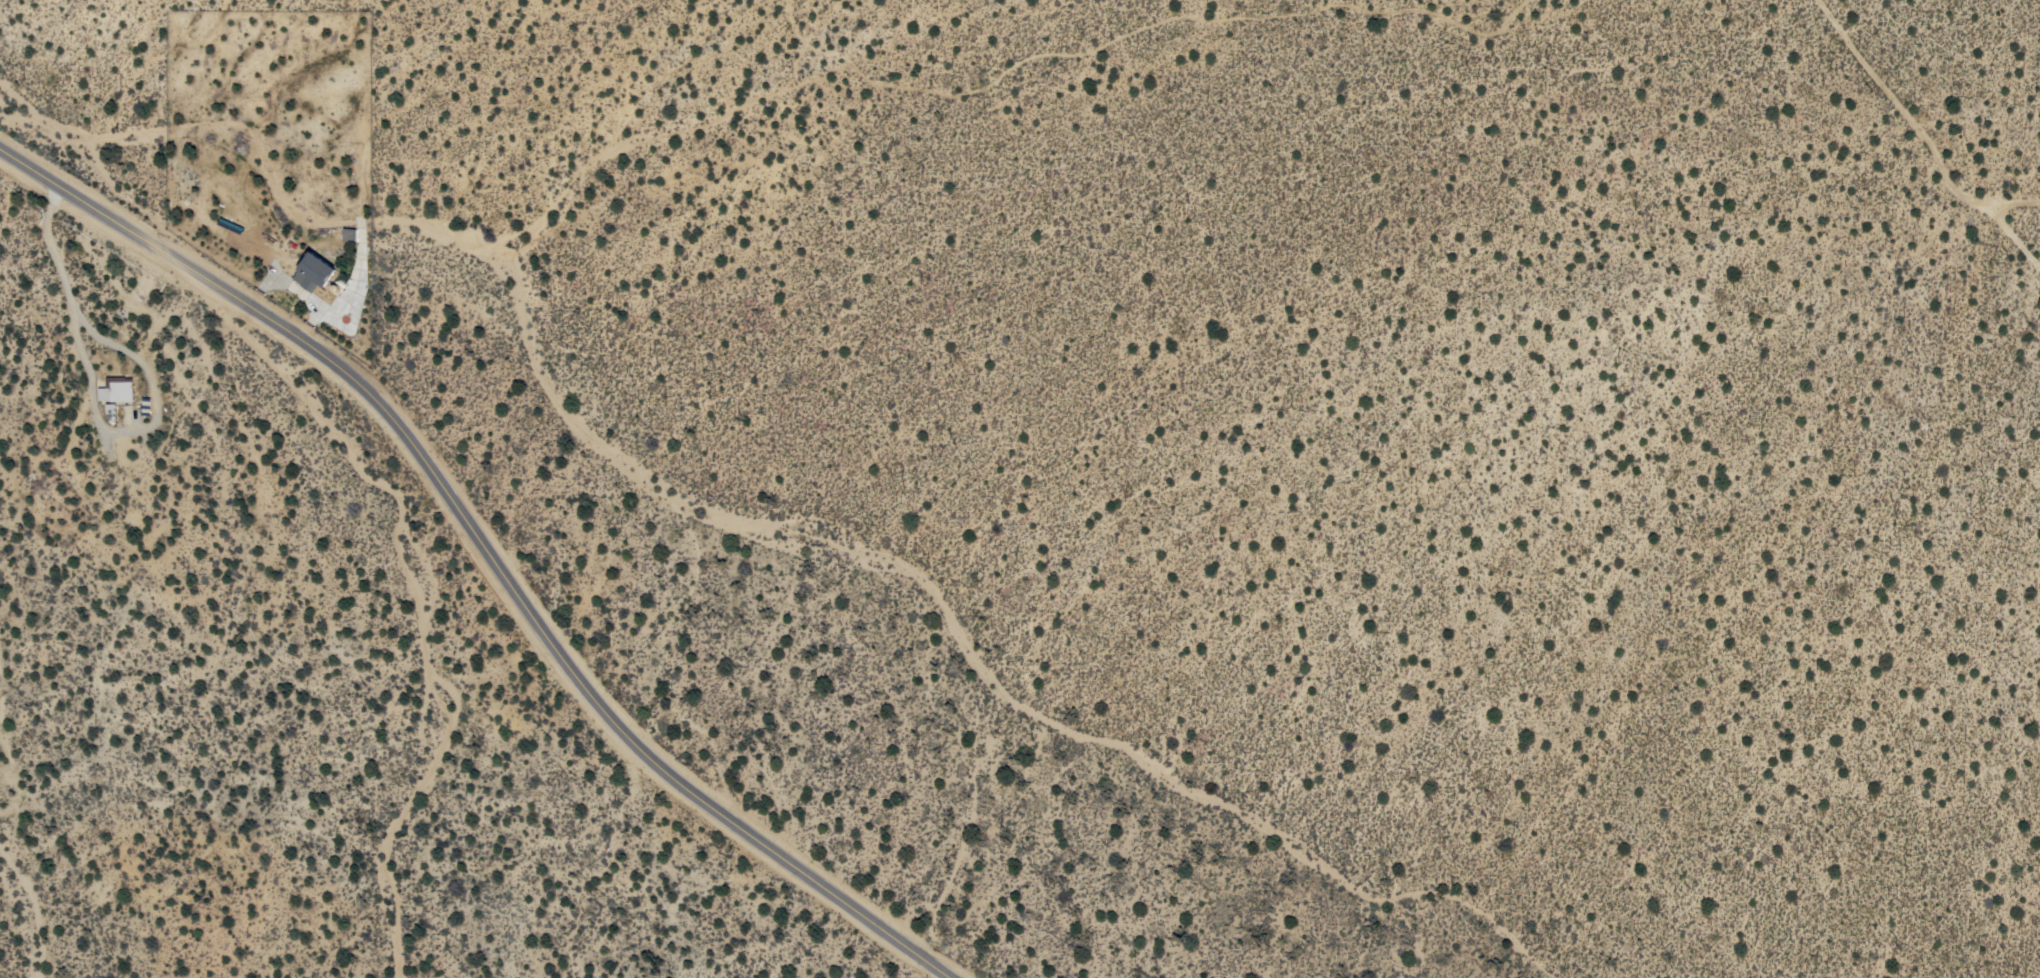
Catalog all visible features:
building: (350, 234)
building: (307, 280)
building: (118, 389)
road: (488, 546)

